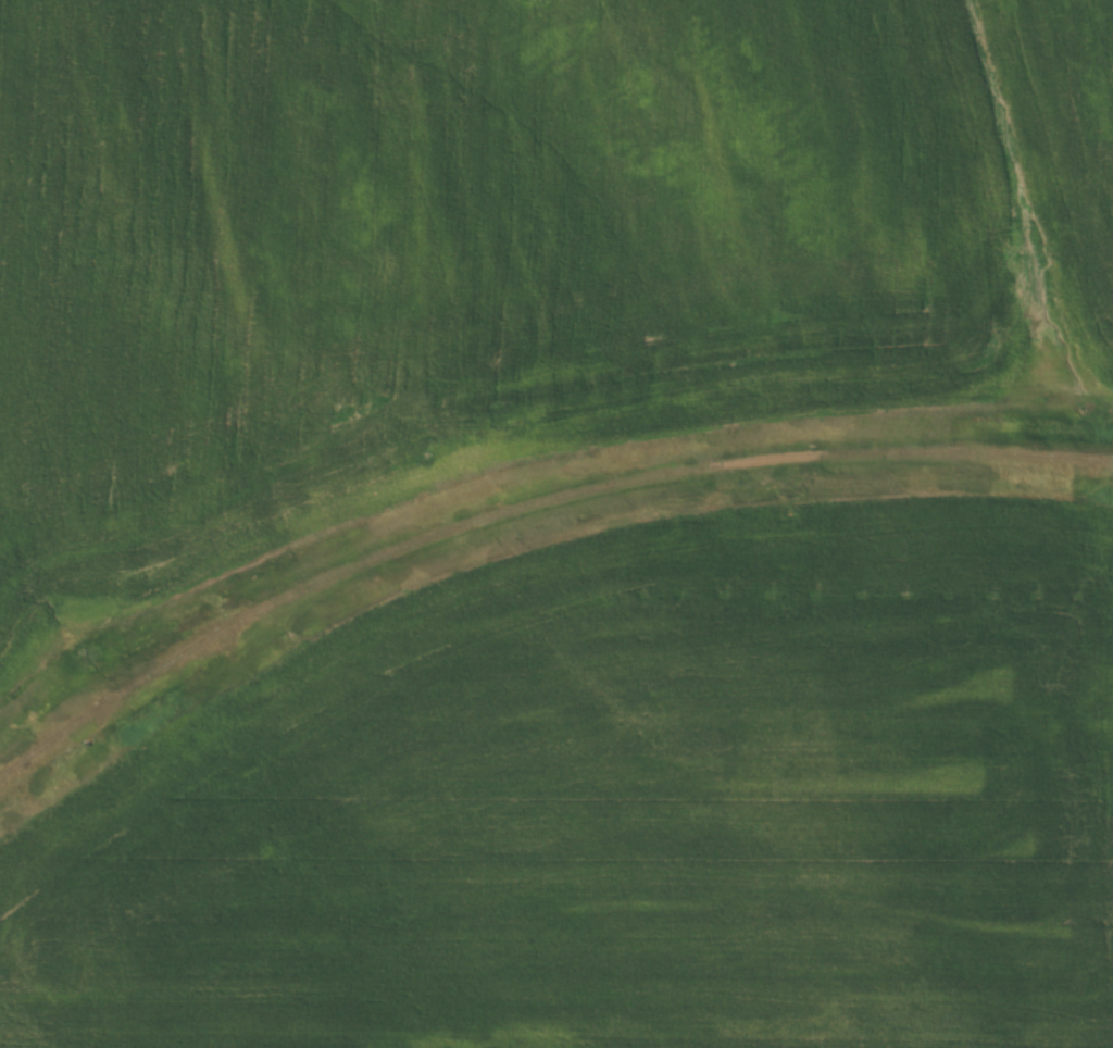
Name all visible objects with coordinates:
railway: (521, 497)

